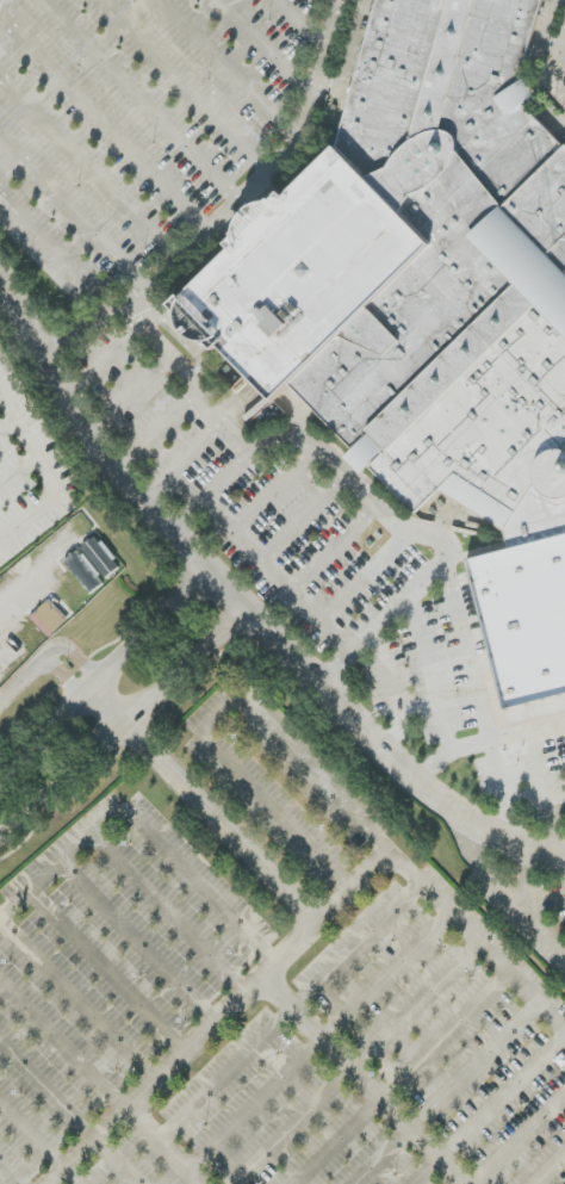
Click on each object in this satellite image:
road: (4, 8)
road: (304, 23)
road: (267, 48)
road: (559, 60)
road: (325, 63)
road: (561, 64)
road: (231, 67)
road: (184, 87)
road: (141, 101)
parking lot: (131, 119)
road: (106, 123)
road: (6, 162)
road: (89, 166)
road: (74, 216)
road: (55, 250)
building: (429, 302)
road: (88, 326)
road: (108, 354)
road: (204, 378)
road: (136, 389)
road: (151, 430)
road: (181, 461)
road: (44, 470)
road: (277, 489)
road: (191, 516)
road: (306, 517)
road: (335, 546)
building: (100, 557)
parking lot: (330, 566)
road: (275, 570)
building: (85, 571)
road: (367, 576)
road: (244, 607)
building: (49, 618)
road: (364, 638)
road: (375, 643)
road: (467, 647)
road: (44, 659)
road: (430, 671)
road: (103, 675)
road: (110, 707)
road: (218, 713)
road: (126, 729)
road: (486, 740)
road: (502, 788)
road: (547, 791)
road: (223, 824)
road: (150, 835)
road: (502, 884)
road: (424, 886)
parking lot: (528, 886)
parking lot: (263, 987)
road: (79, 1000)
road: (364, 1079)
road: (156, 1080)
road: (164, 1146)
road: (551, 1170)

